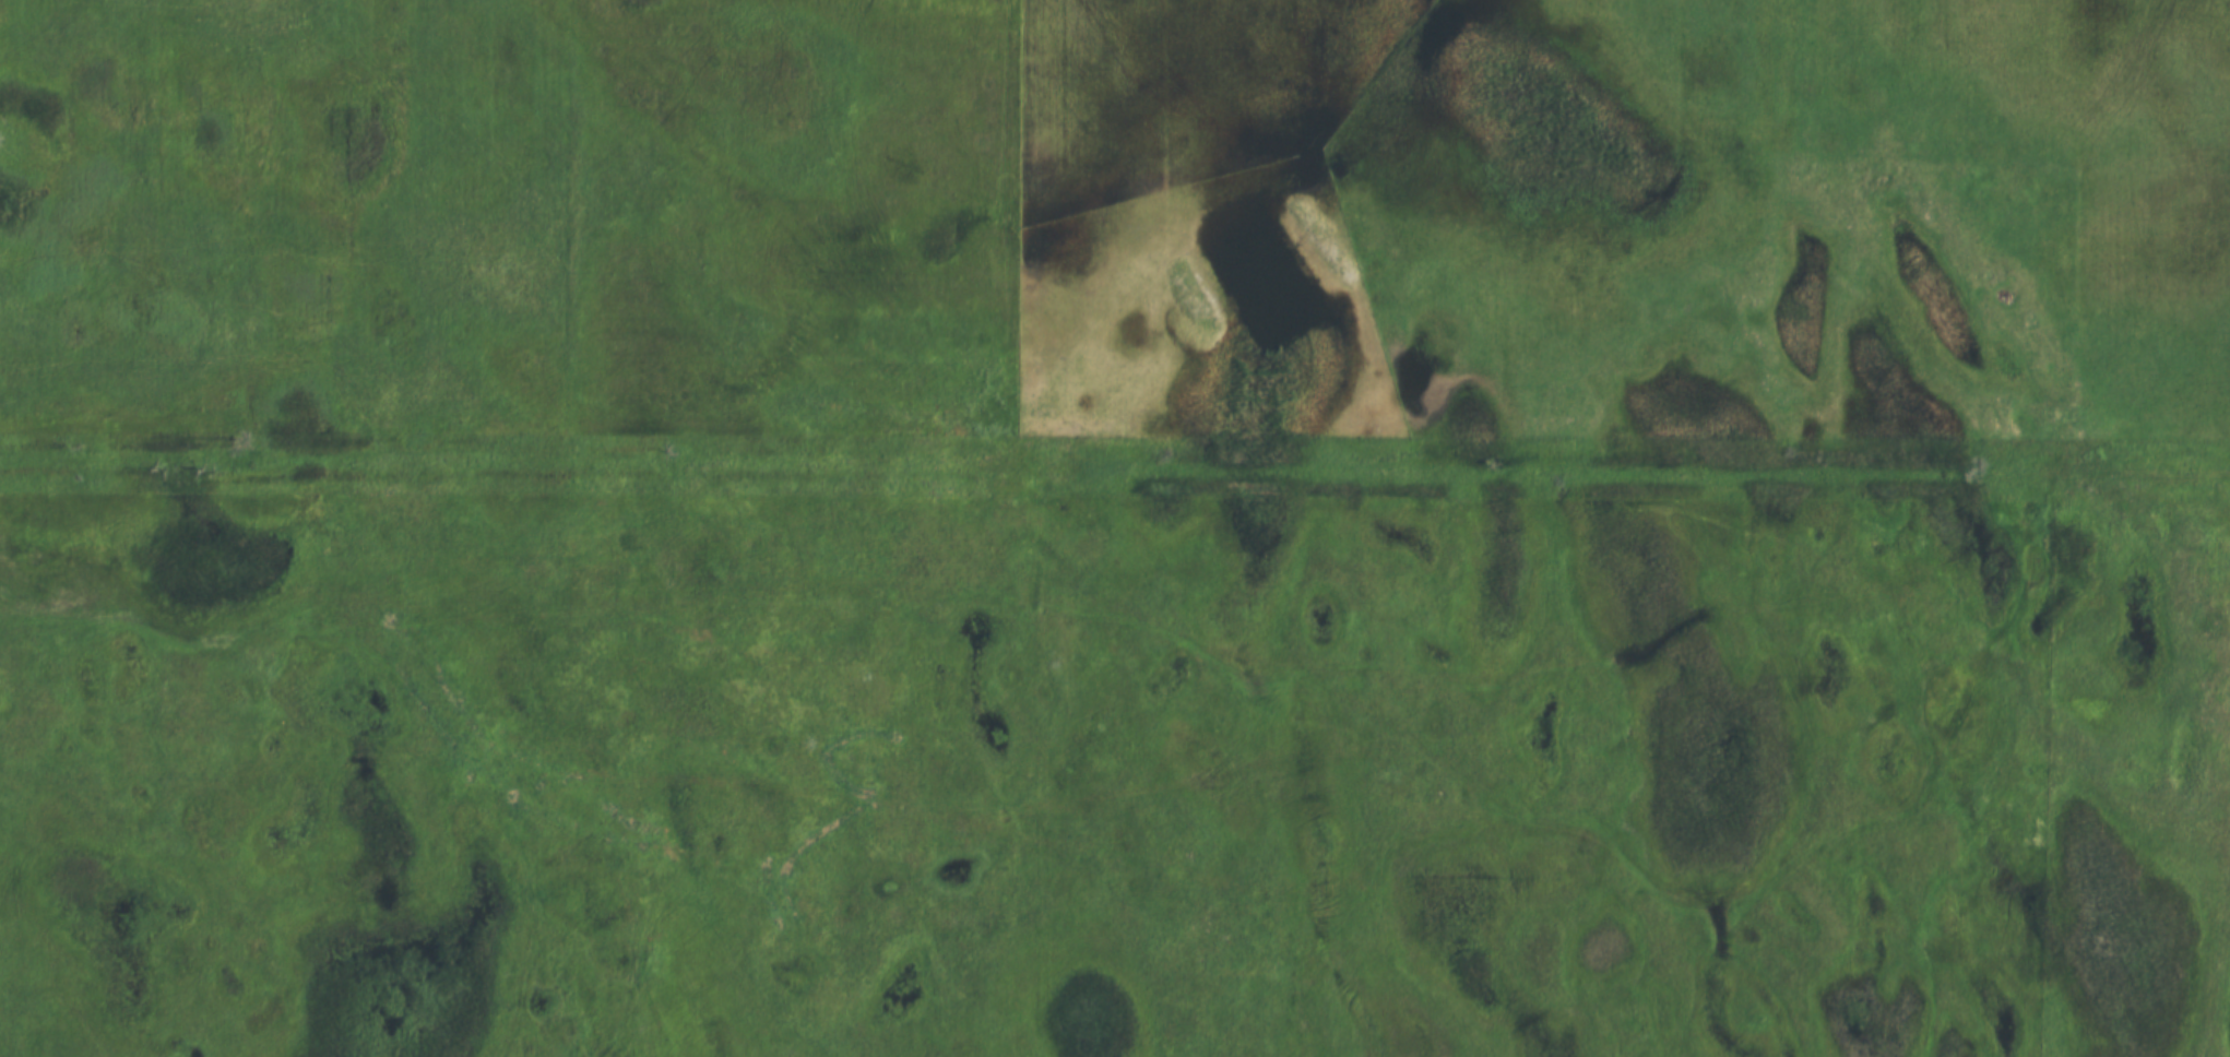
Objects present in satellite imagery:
road: (1662, 478)

